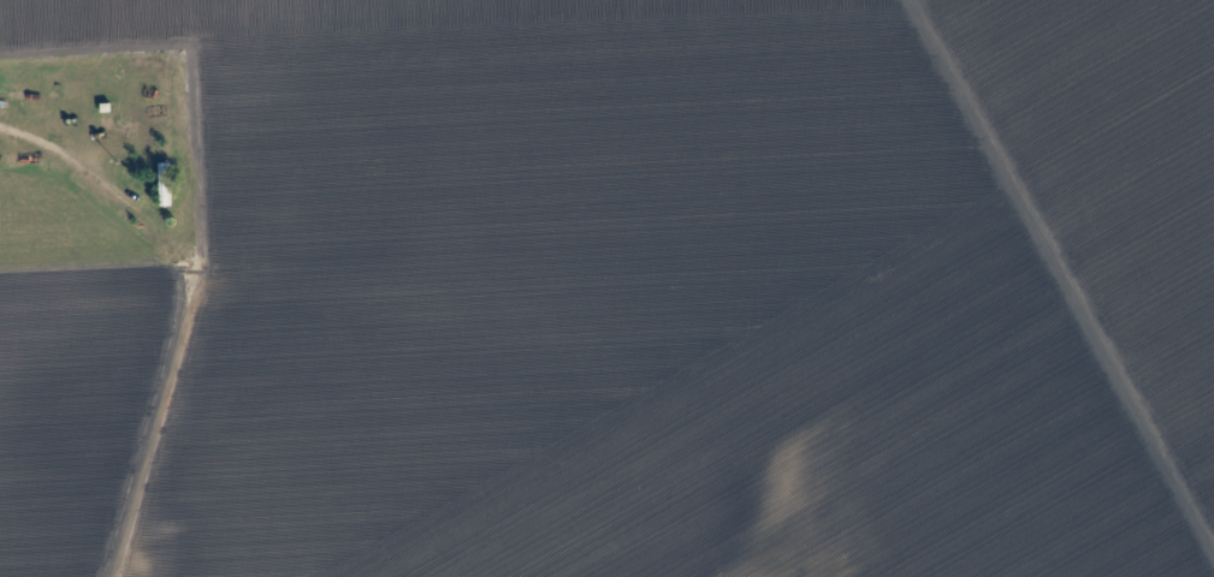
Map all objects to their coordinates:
road: (196, 301)

